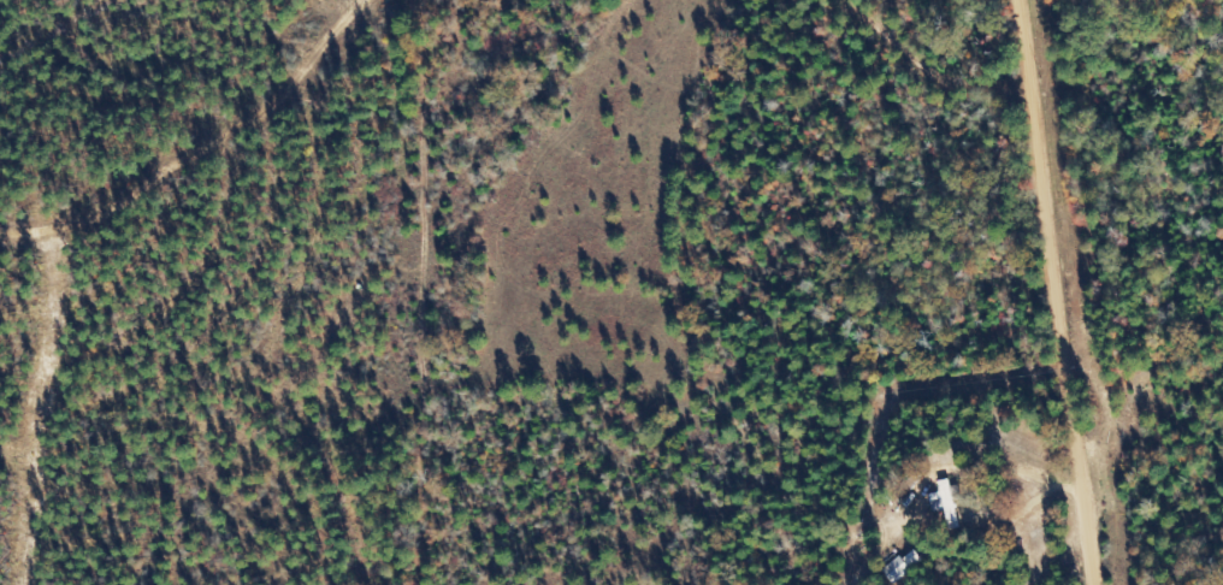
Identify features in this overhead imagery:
road: (1064, 292)
building: (953, 502)
building: (905, 565)

